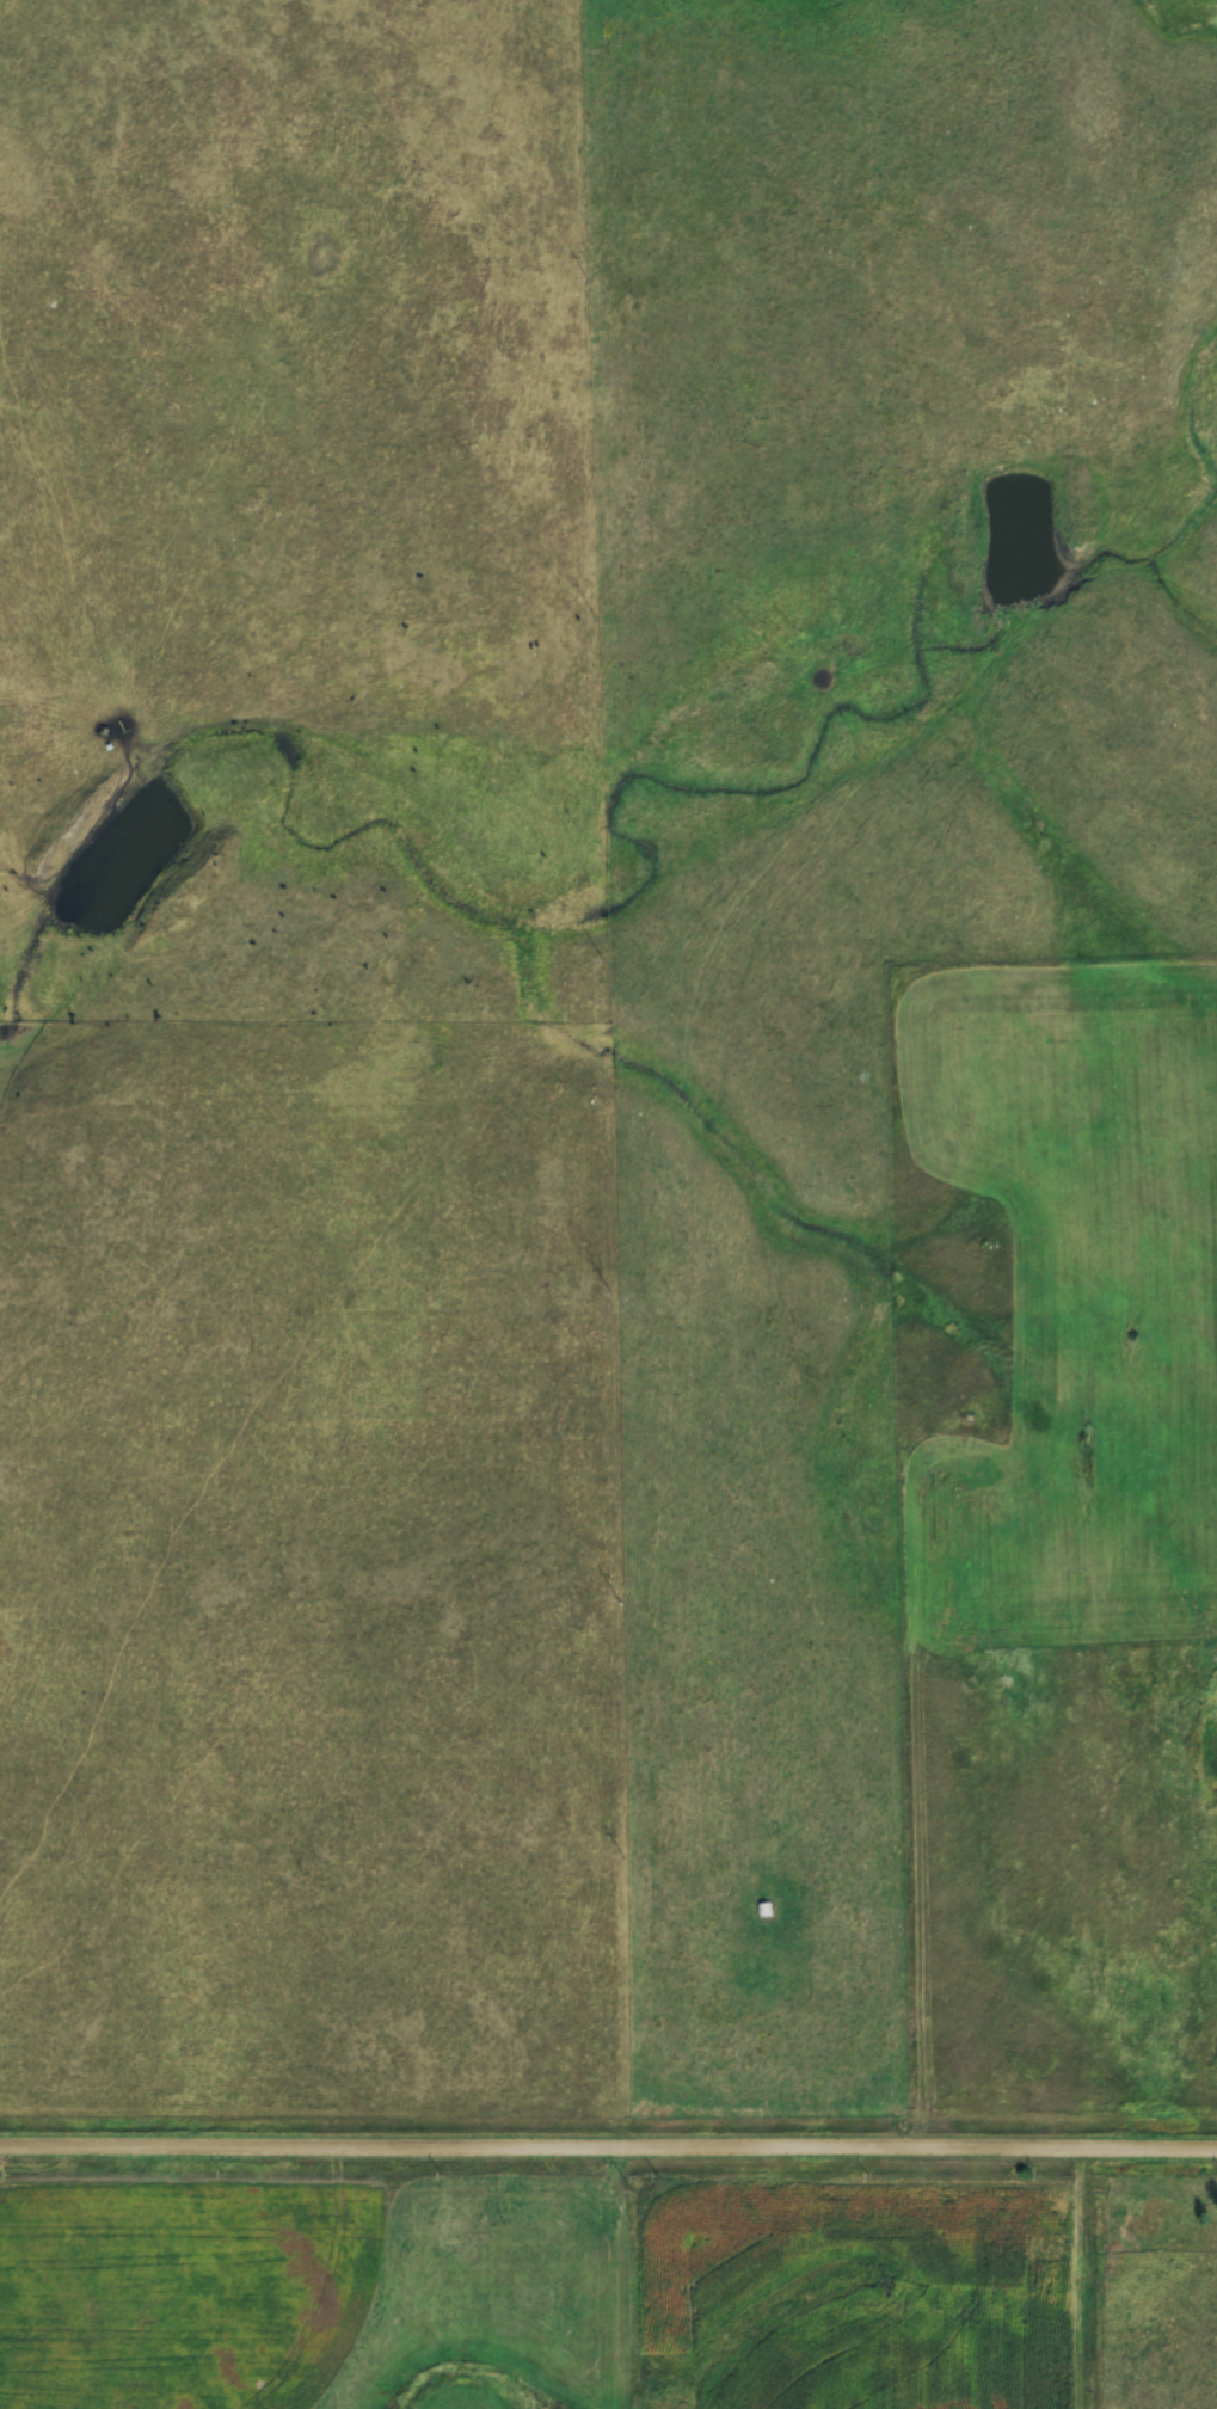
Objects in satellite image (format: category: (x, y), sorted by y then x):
road: (608, 2143)

